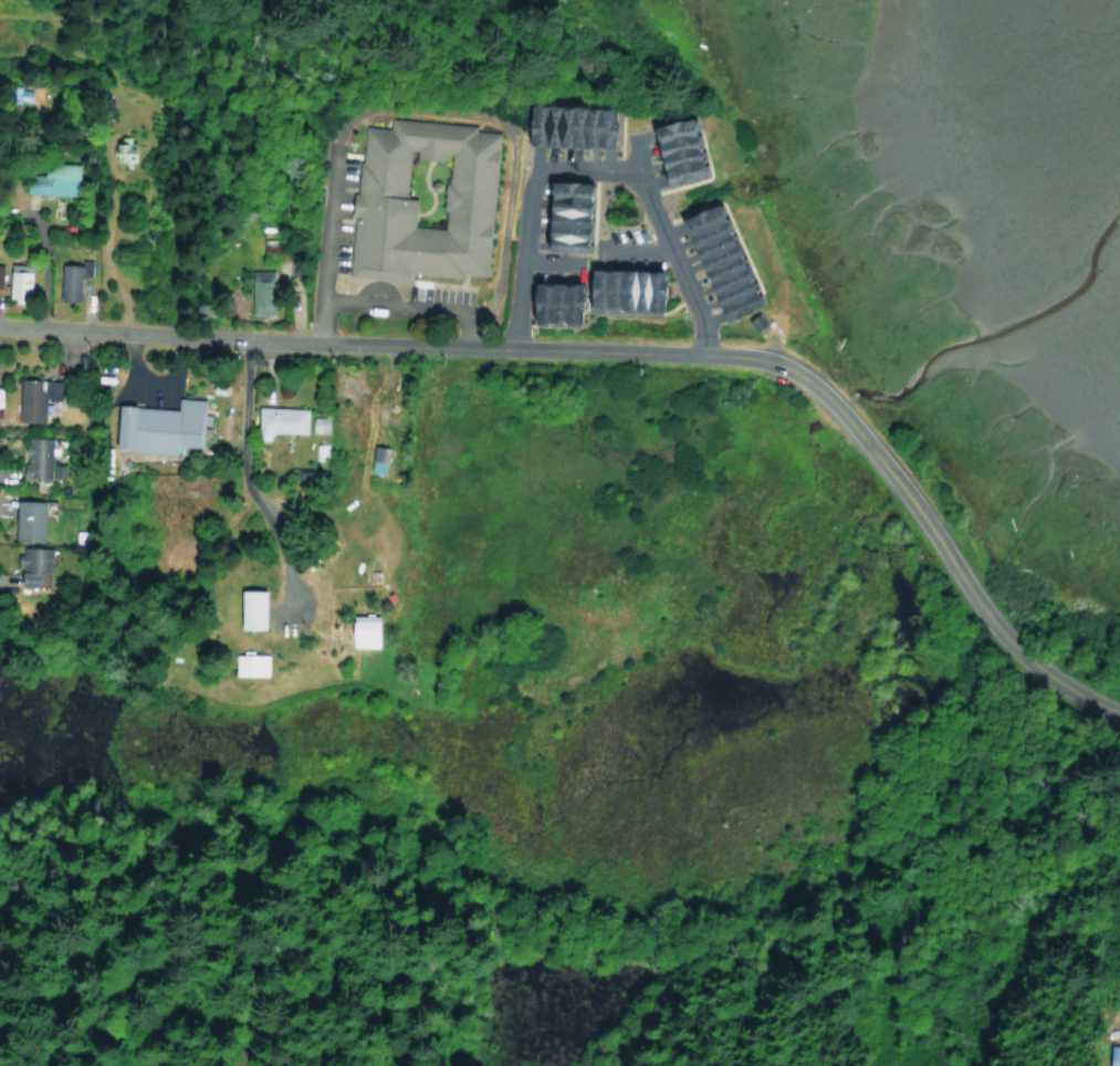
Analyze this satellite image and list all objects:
building: (17, 94)
building: (562, 125)
building: (669, 150)
building: (122, 151)
road: (637, 157)
road: (596, 170)
building: (50, 180)
building: (418, 200)
road: (327, 205)
building: (558, 216)
road: (598, 257)
building: (711, 262)
building: (72, 279)
building: (15, 281)
building: (619, 289)
building: (258, 293)
building: (546, 303)
road: (405, 307)
road: (637, 351)
road: (241, 387)
building: (27, 400)
building: (275, 421)
building: (315, 425)
building: (156, 427)
building: (221, 429)
building: (374, 460)
building: (34, 461)
building: (23, 521)
building: (28, 565)
building: (245, 609)
building: (359, 631)
building: (244, 665)
building: (1112, 1056)

